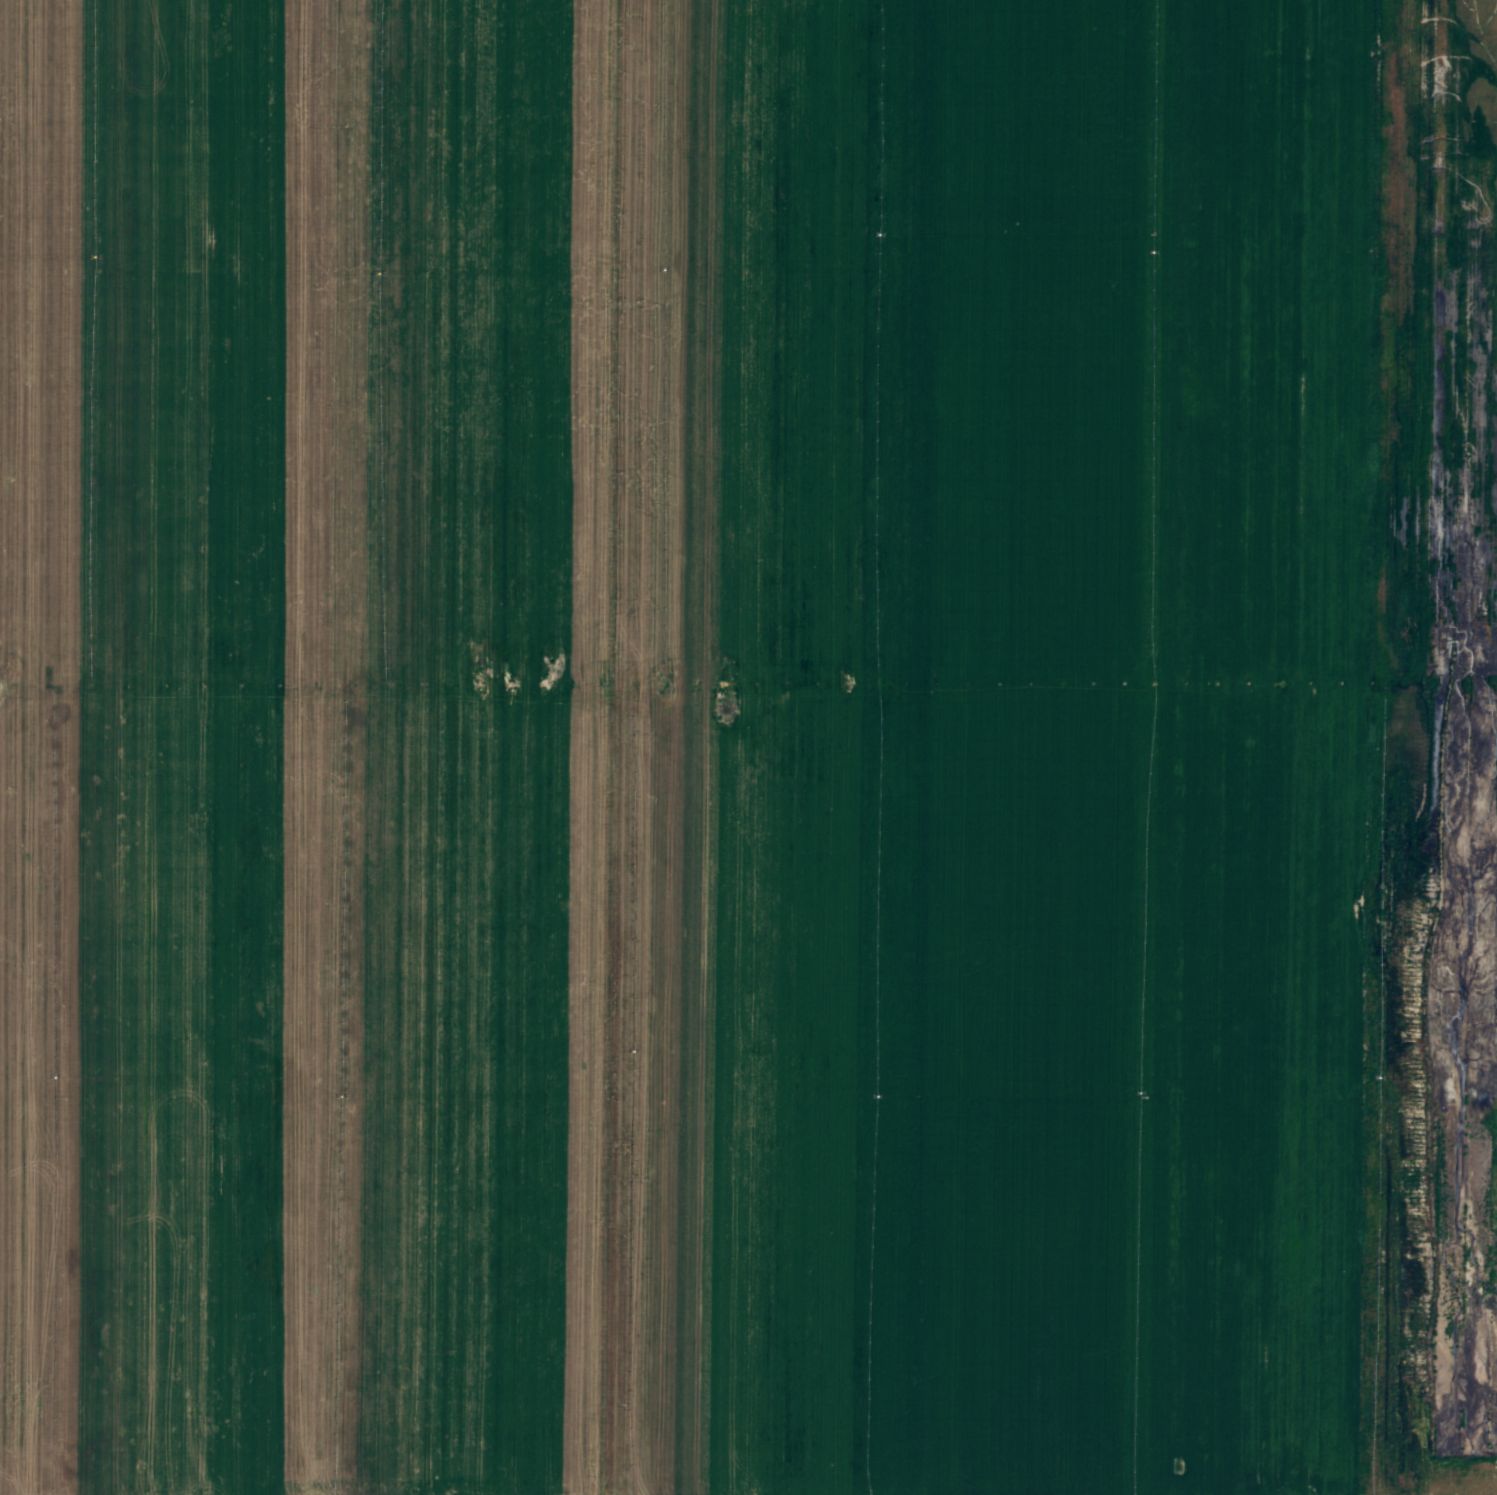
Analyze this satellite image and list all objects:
crop: (748, 747)

